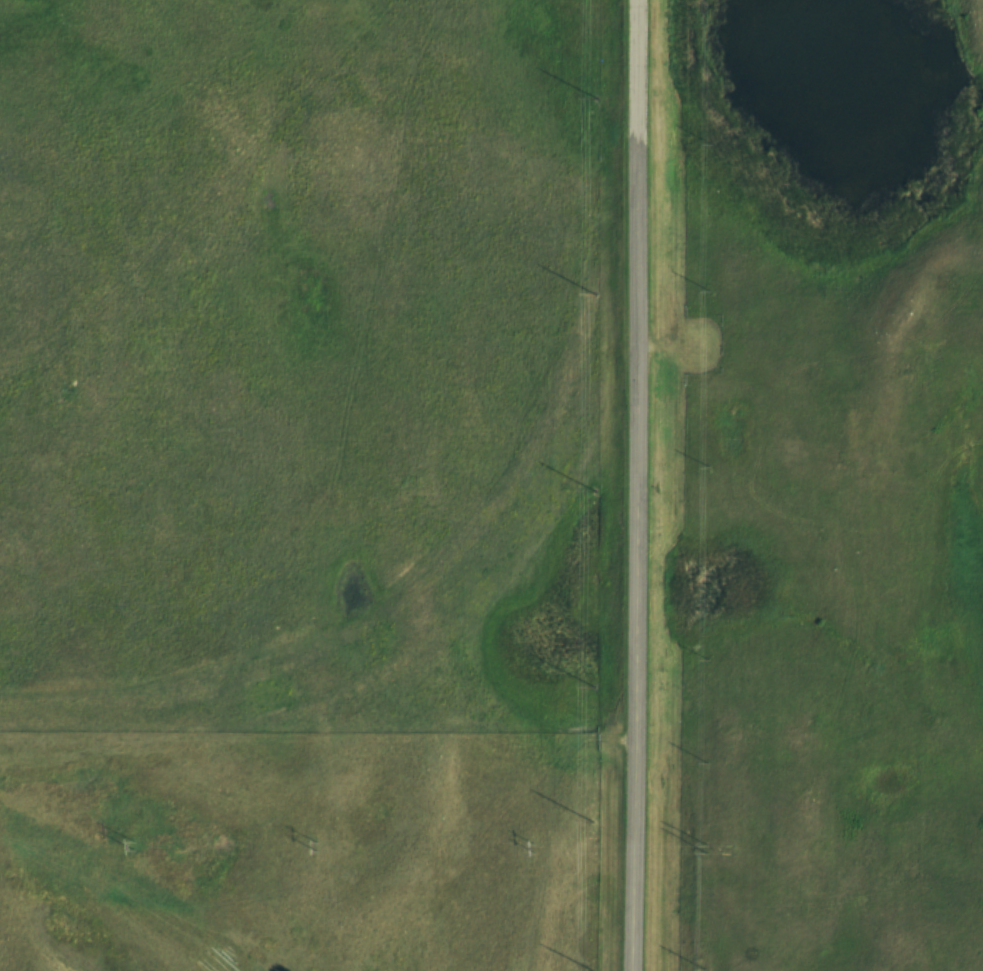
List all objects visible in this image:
road: (634, 413)
road: (631, 899)

